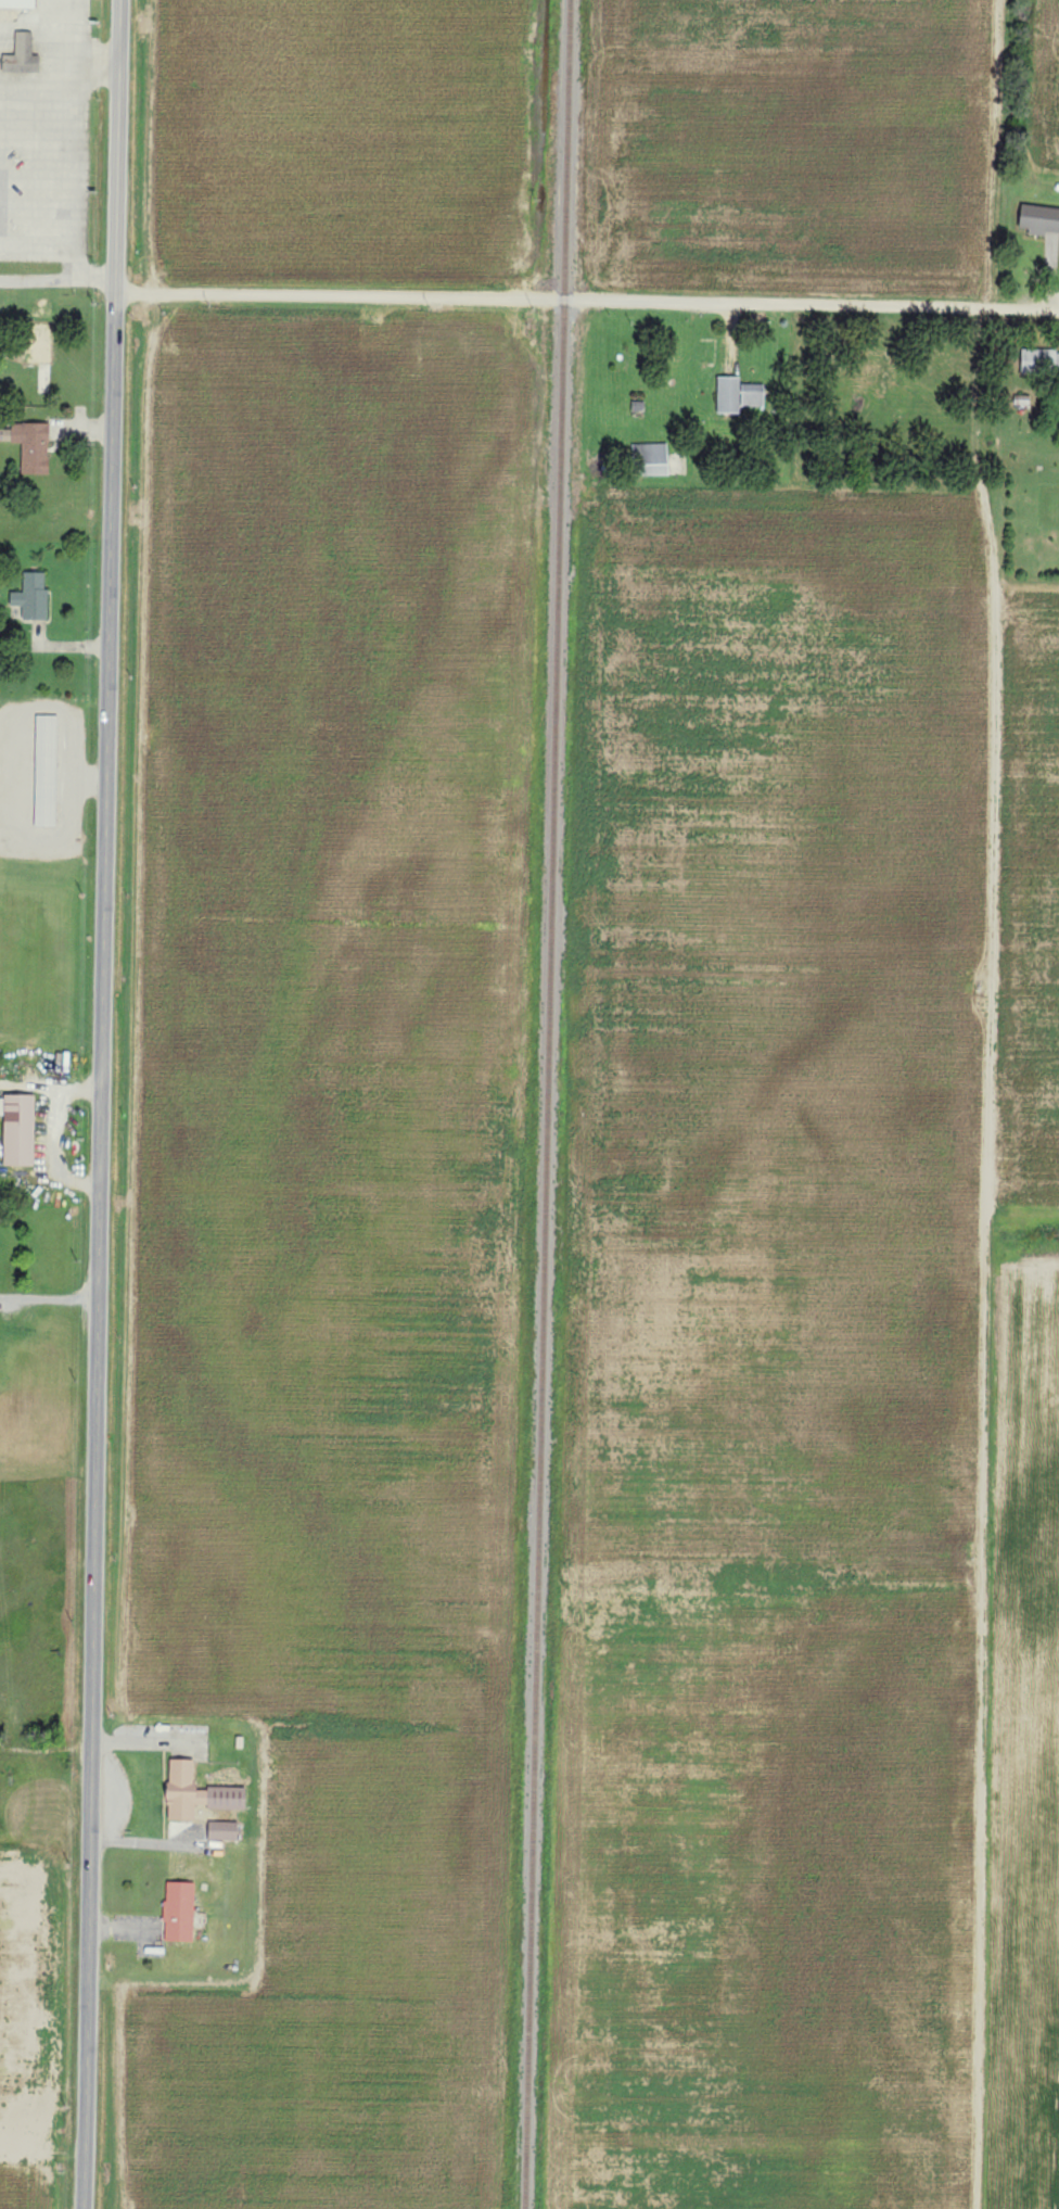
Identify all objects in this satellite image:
building: (20, 2)
road: (56, 29)
building: (24, 53)
road: (88, 60)
road: (118, 145)
building: (1039, 219)
road: (77, 257)
road: (58, 279)
road: (587, 297)
building: (26, 309)
building: (46, 309)
building: (2, 310)
building: (82, 312)
building: (47, 363)
building: (17, 368)
road: (2, 382)
road: (85, 427)
building: (35, 444)
building: (654, 457)
building: (35, 595)
road: (62, 644)
road: (71, 746)
building: (48, 769)
road: (89, 779)
road: (71, 807)
road: (28, 1082)
road: (79, 1088)
railway: (548, 1104)
building: (23, 1129)
road: (55, 1152)
road: (100, 1251)
road: (149, 1740)
road: (46, 1748)
building: (201, 1791)
building: (226, 1828)
road: (148, 1840)
building: (181, 1908)
road: (126, 1925)
road: (148, 1939)

